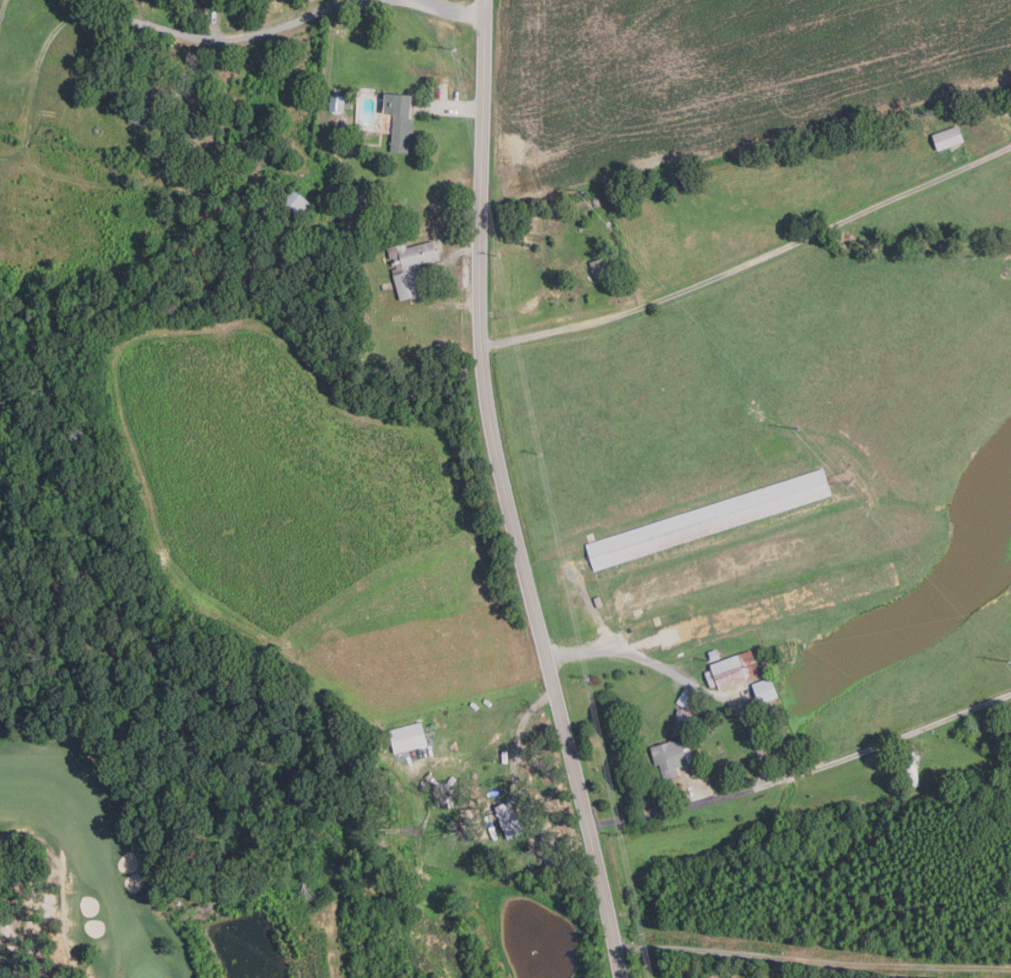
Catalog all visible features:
road: (447, 8)
road: (3, 11)
road: (50, 37)
road: (211, 38)
power tower: (456, 49)
building: (87, 68)
building: (144, 99)
building: (336, 103)
building: (348, 103)
road: (451, 106)
building: (8, 111)
building: (398, 118)
building: (947, 137)
power tower: (584, 192)
building: (598, 201)
building: (297, 204)
building: (580, 229)
road: (460, 253)
road: (751, 263)
building: (408, 265)
building: (599, 268)
power tower: (800, 428)
road: (505, 494)
building: (708, 519)
building: (598, 602)
building: (775, 607)
building: (713, 654)
building: (702, 659)
power tower: (1010, 663)
building: (732, 670)
road: (683, 679)
building: (764, 690)
building: (685, 698)
building: (1010, 713)
building: (679, 721)
building: (407, 737)
road: (923, 745)
building: (689, 754)
building: (669, 757)
building: (911, 767)
road: (803, 772)
building: (694, 773)
road: (693, 789)
road: (522, 798)
building: (450, 801)
building: (508, 820)
road: (12, 837)
road: (41, 844)
park: (78, 872)
road: (62, 916)
road: (813, 961)
road: (780, 967)

